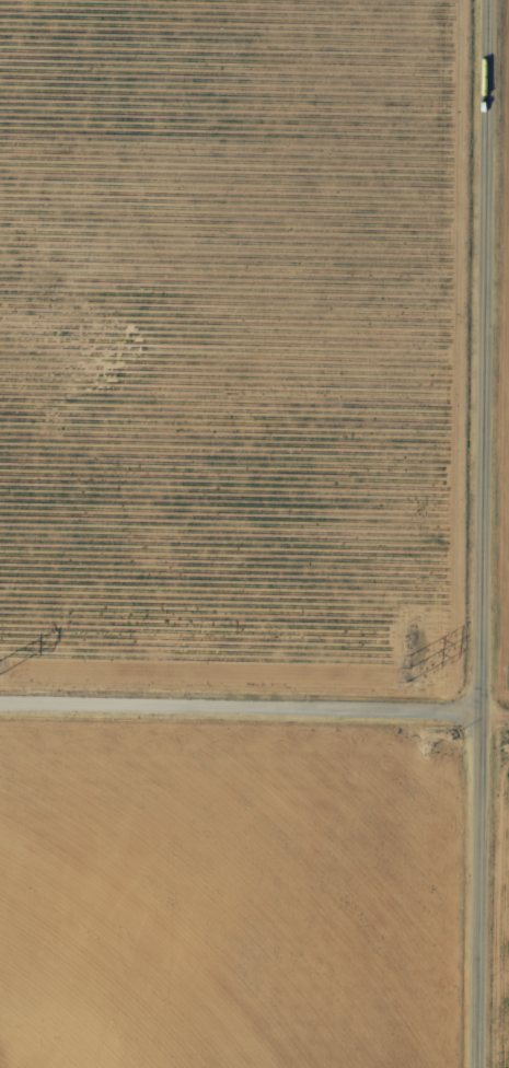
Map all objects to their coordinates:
road: (474, 533)
power tower: (1, 665)
power tower: (412, 669)
road: (234, 727)
road: (488, 729)

